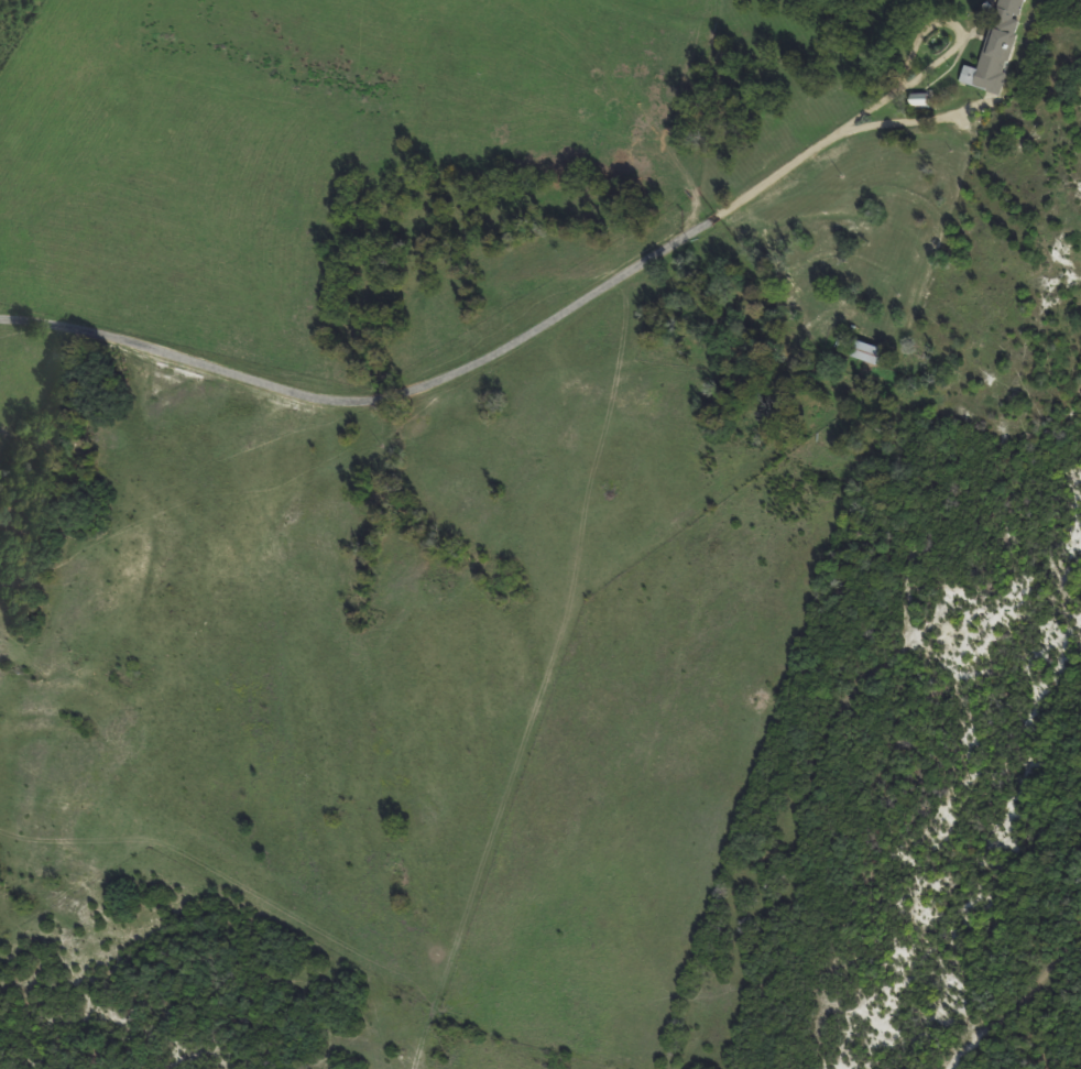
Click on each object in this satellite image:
building: (993, 48)
building: (915, 98)
building: (863, 351)
road: (449, 372)

